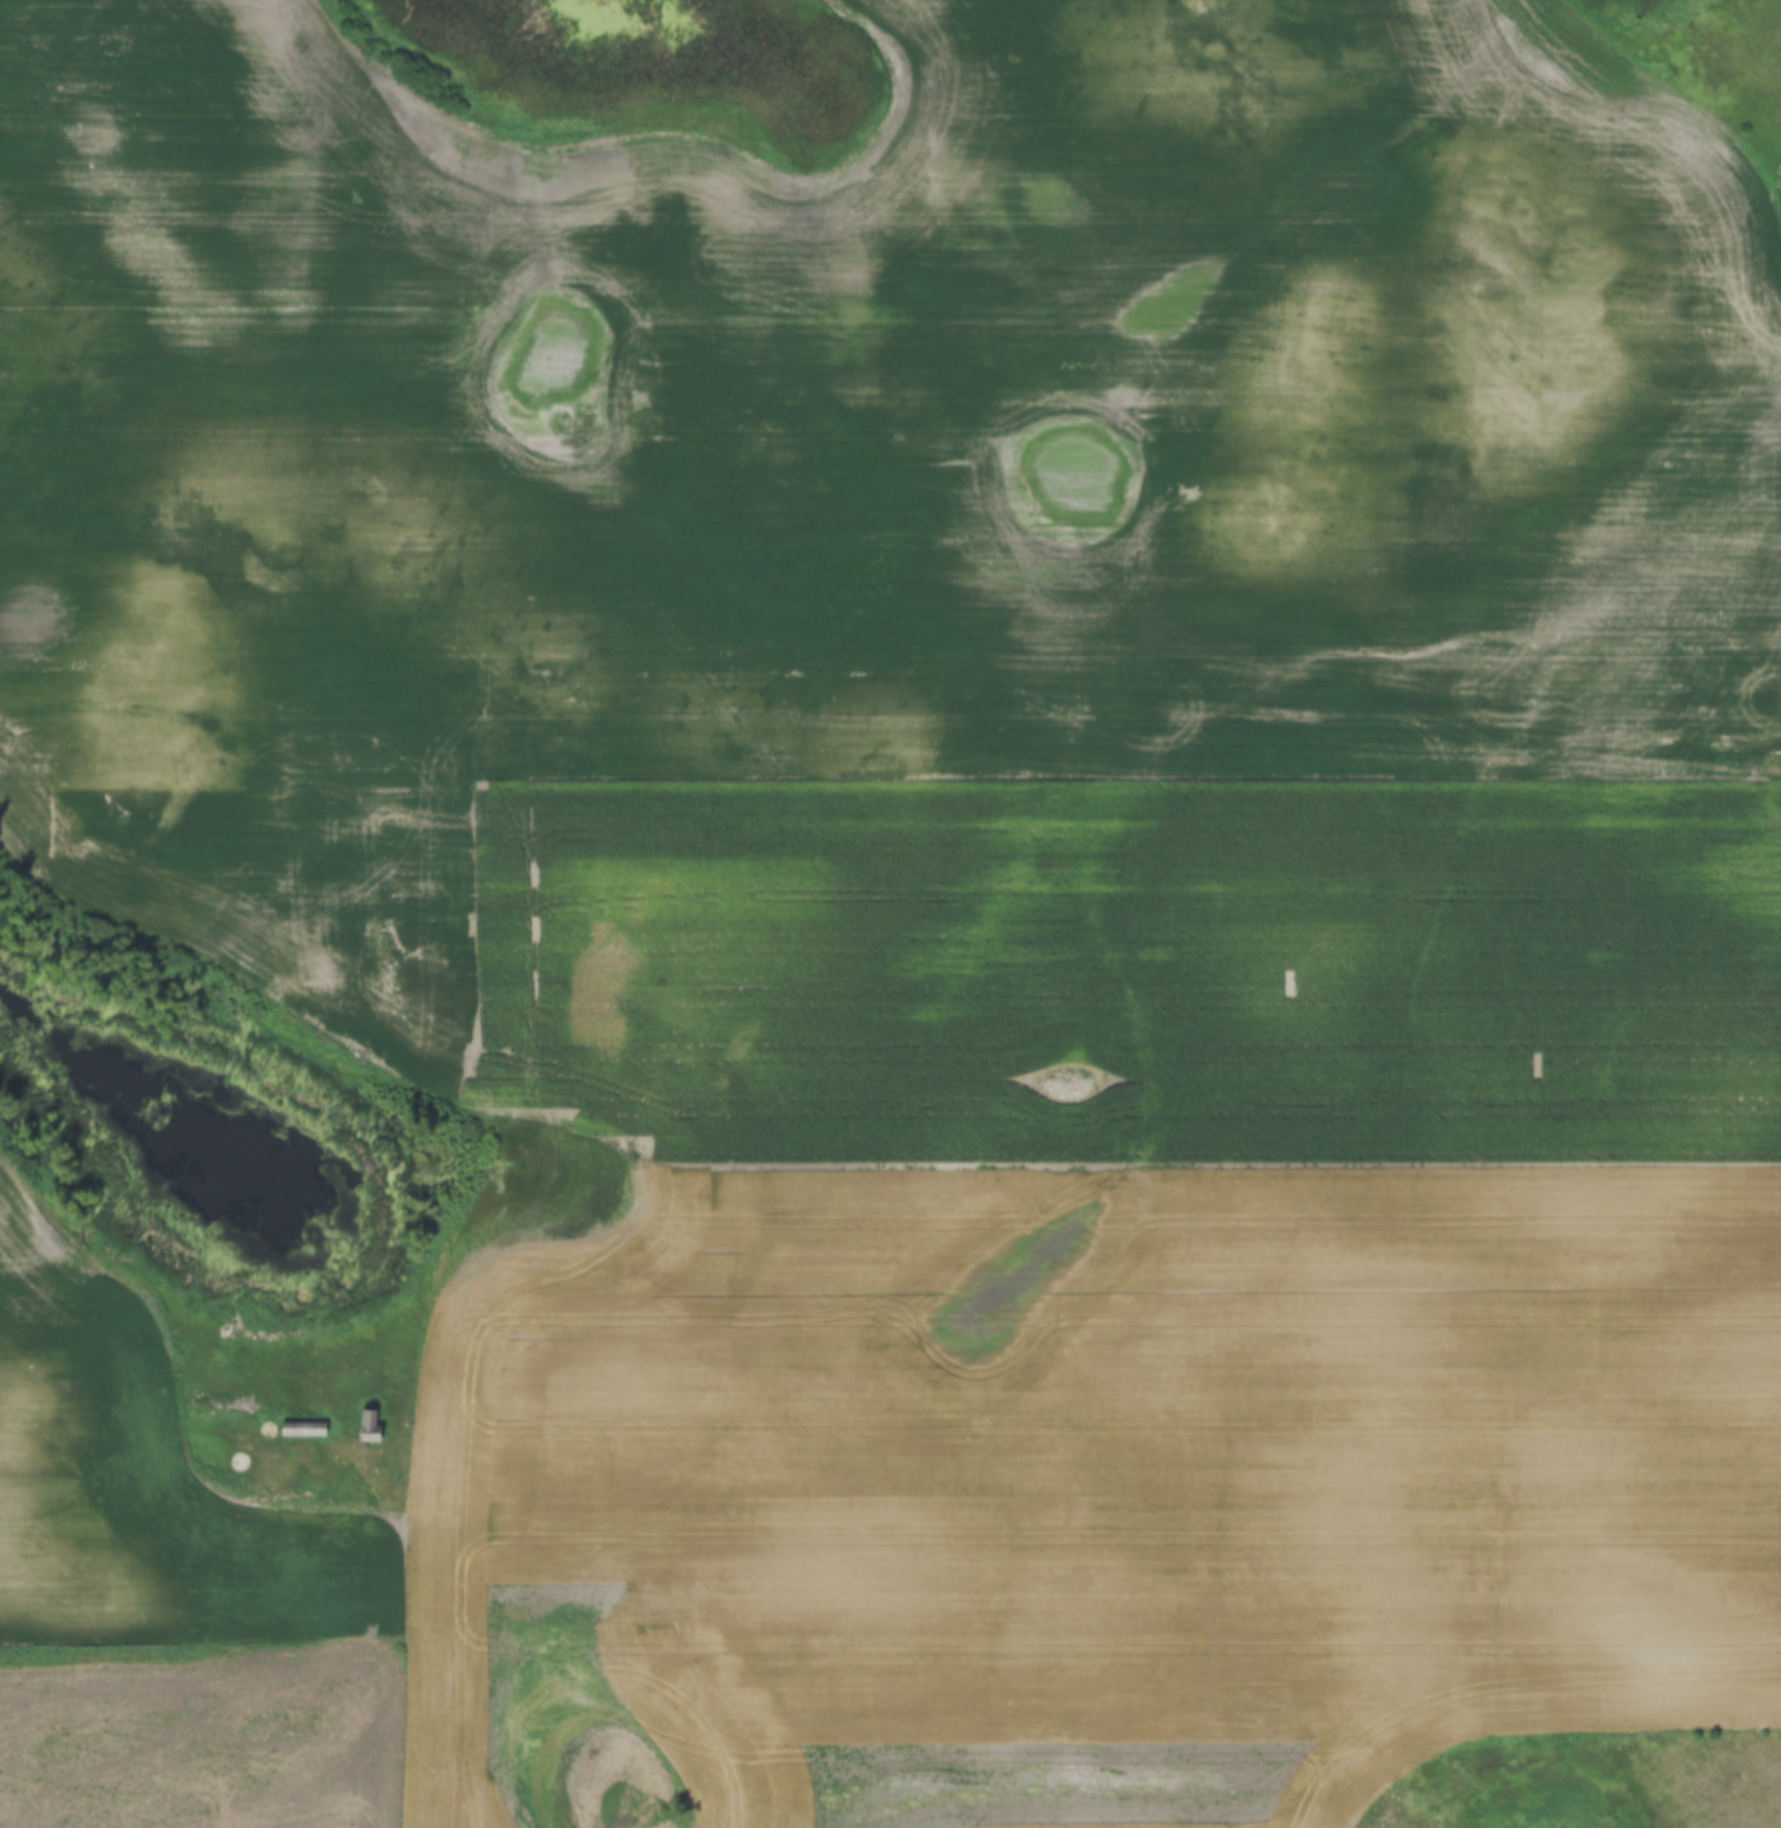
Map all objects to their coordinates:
road: (435, 1349)
building: (370, 1427)
building: (303, 1432)
road: (266, 1658)
road: (1538, 1721)
road: (360, 1744)

